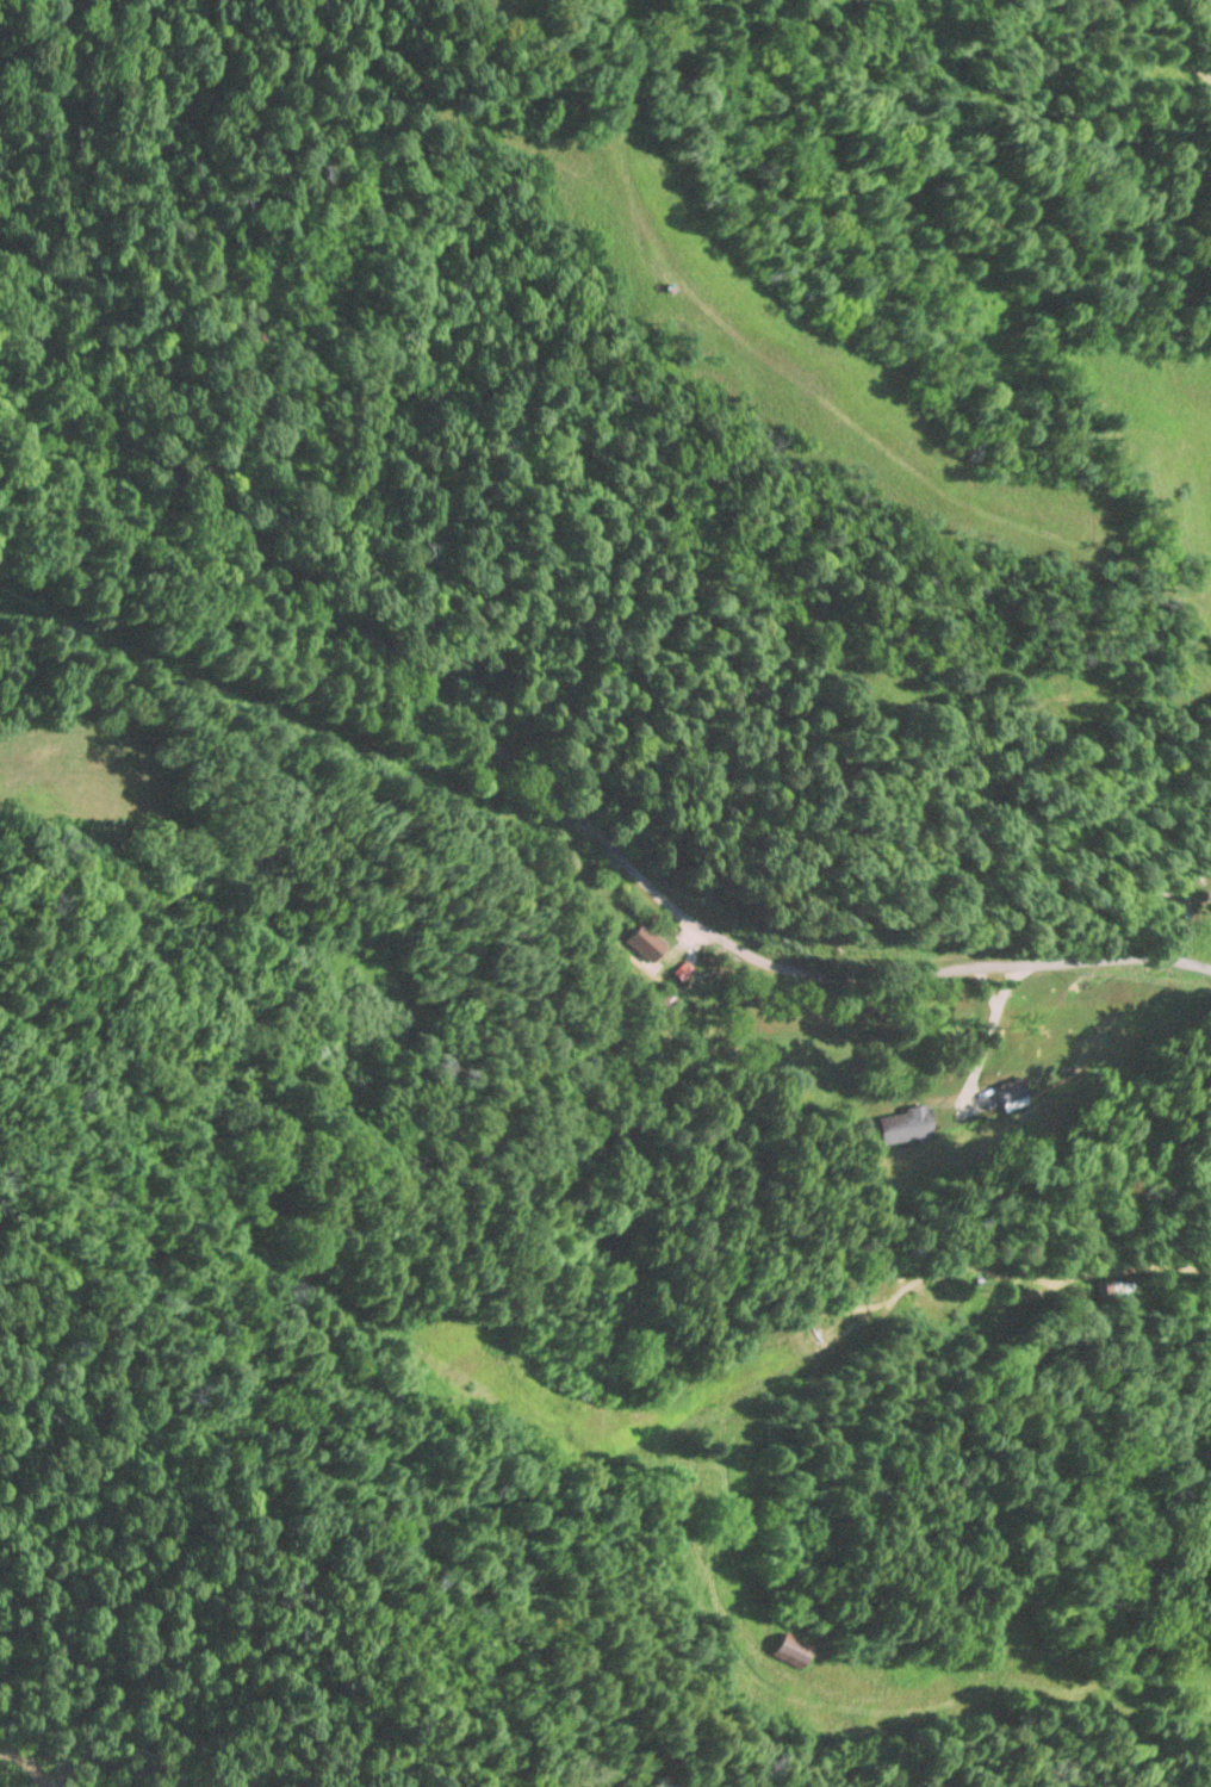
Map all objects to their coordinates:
road: (548, 788)
building: (642, 943)
building: (905, 1125)
road: (973, 1278)
building: (1113, 1290)
building: (789, 1653)

